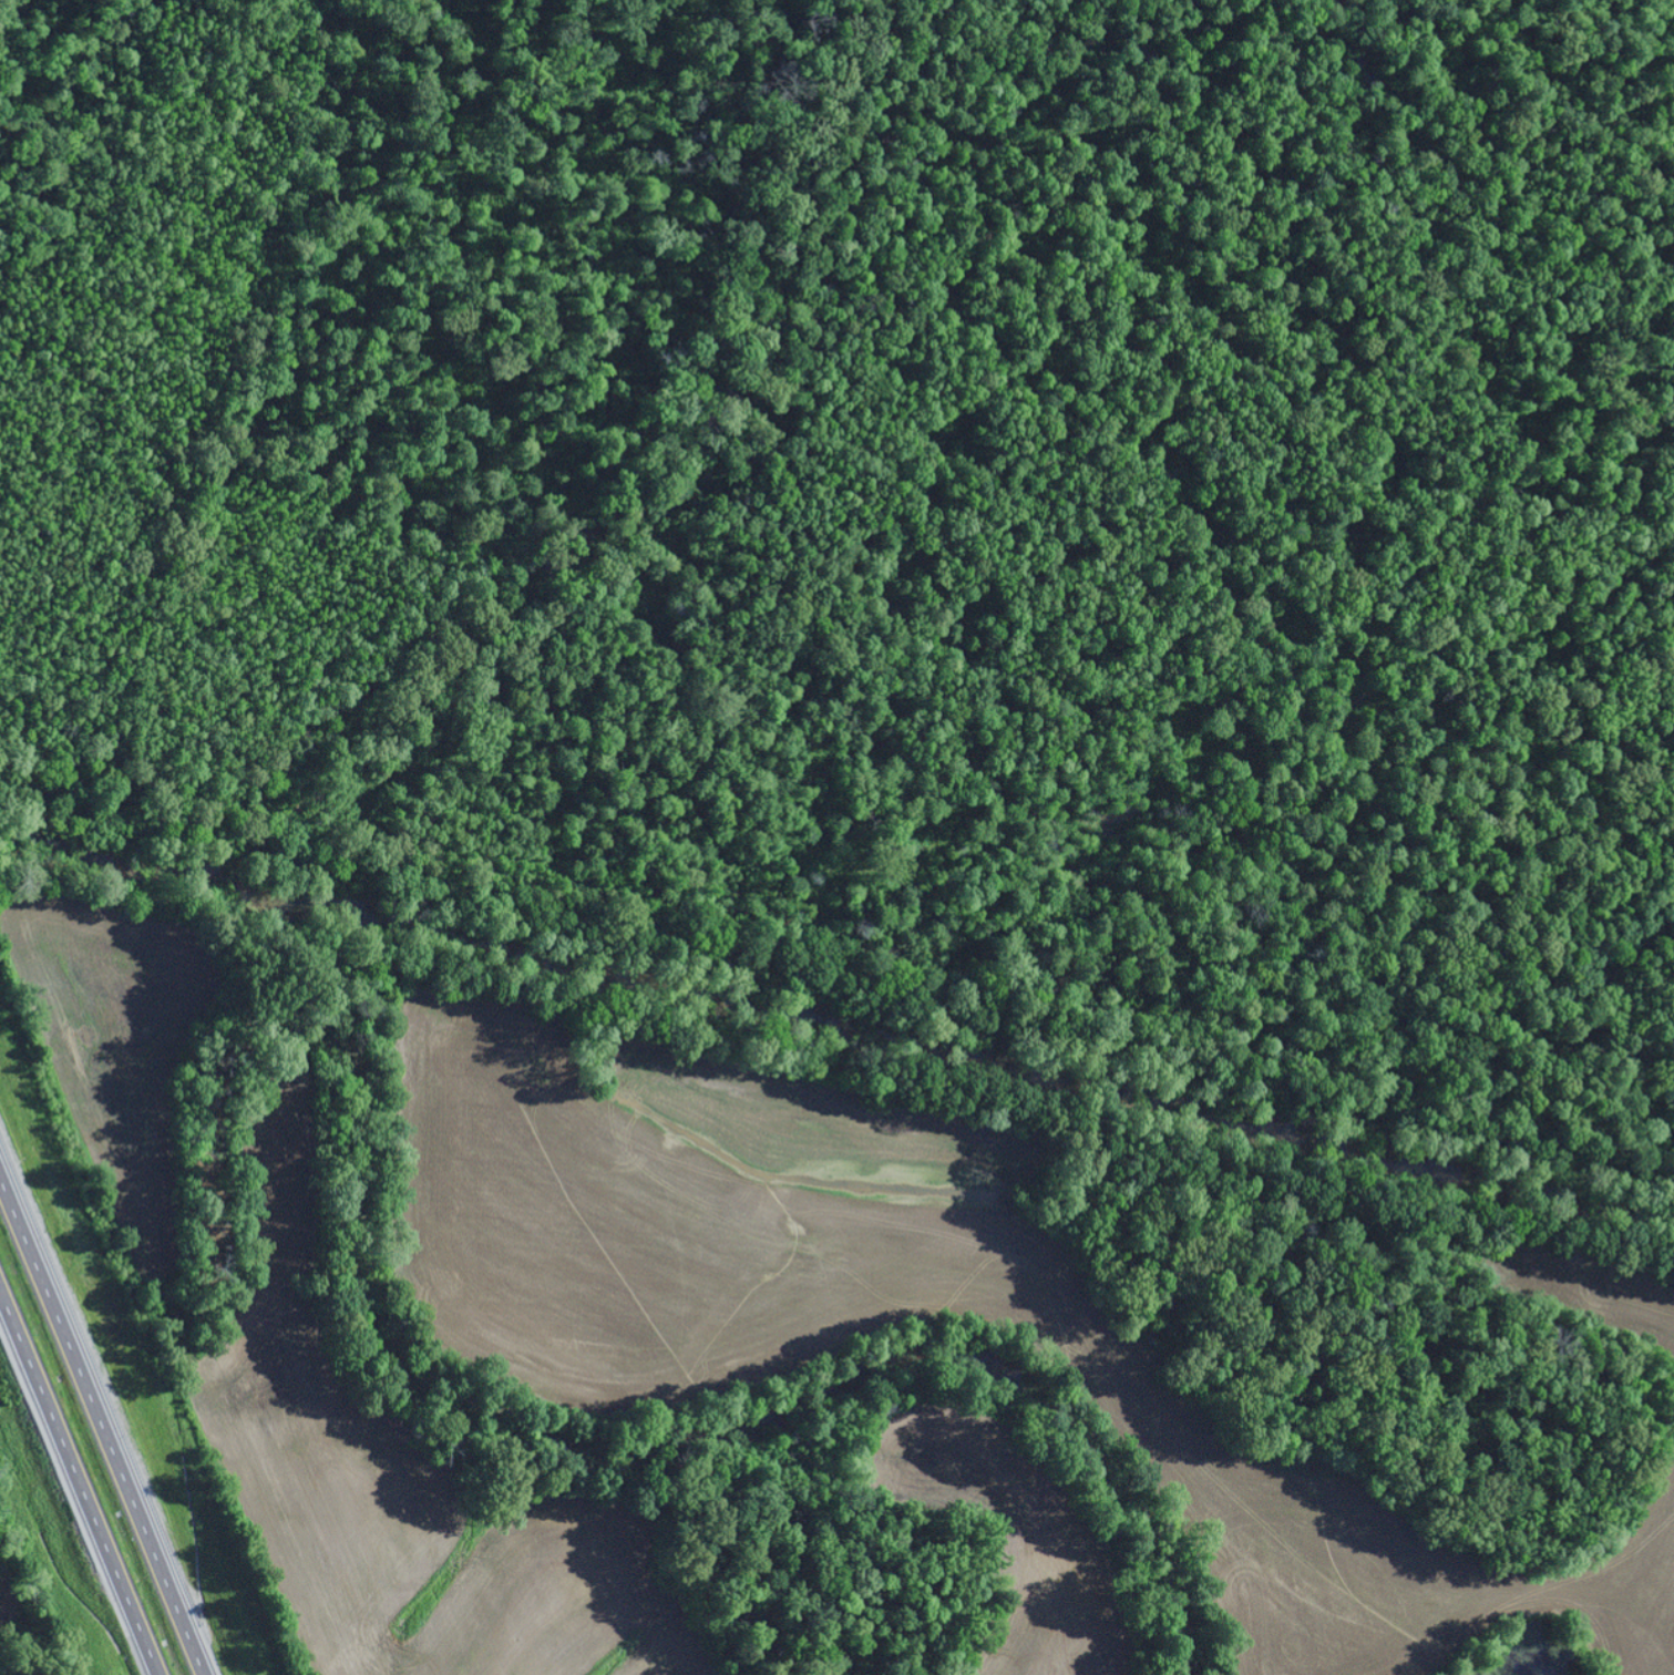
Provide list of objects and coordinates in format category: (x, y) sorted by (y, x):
road: (871, 931)
road: (102, 1429)
road: (78, 1484)

